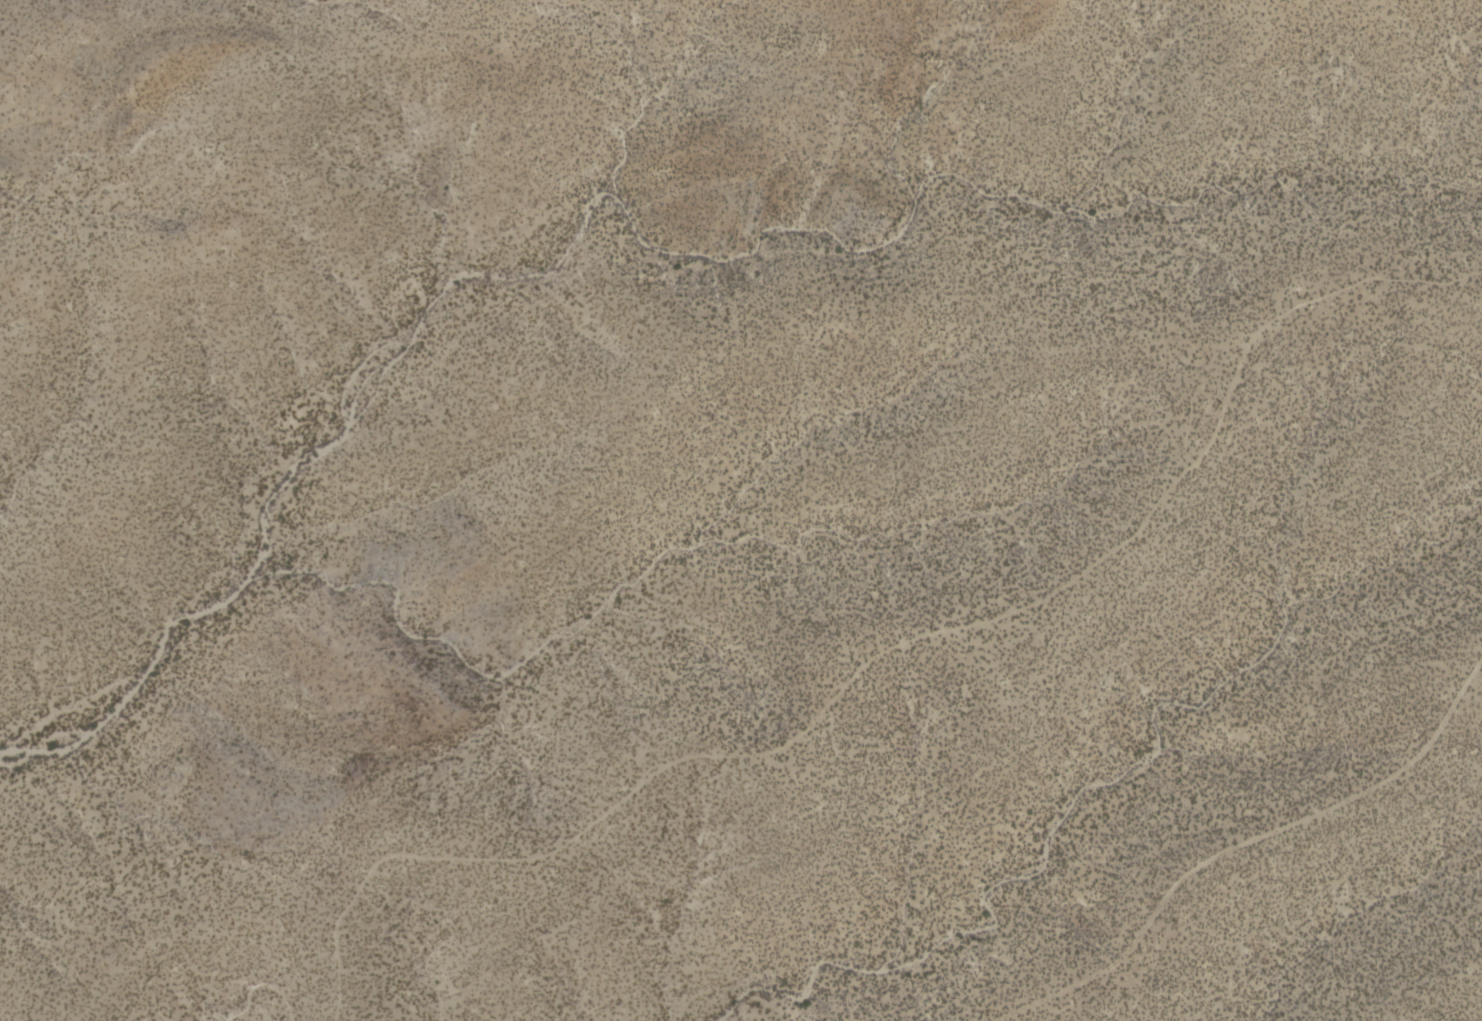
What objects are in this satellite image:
road: (891, 646)
road: (268, 989)

